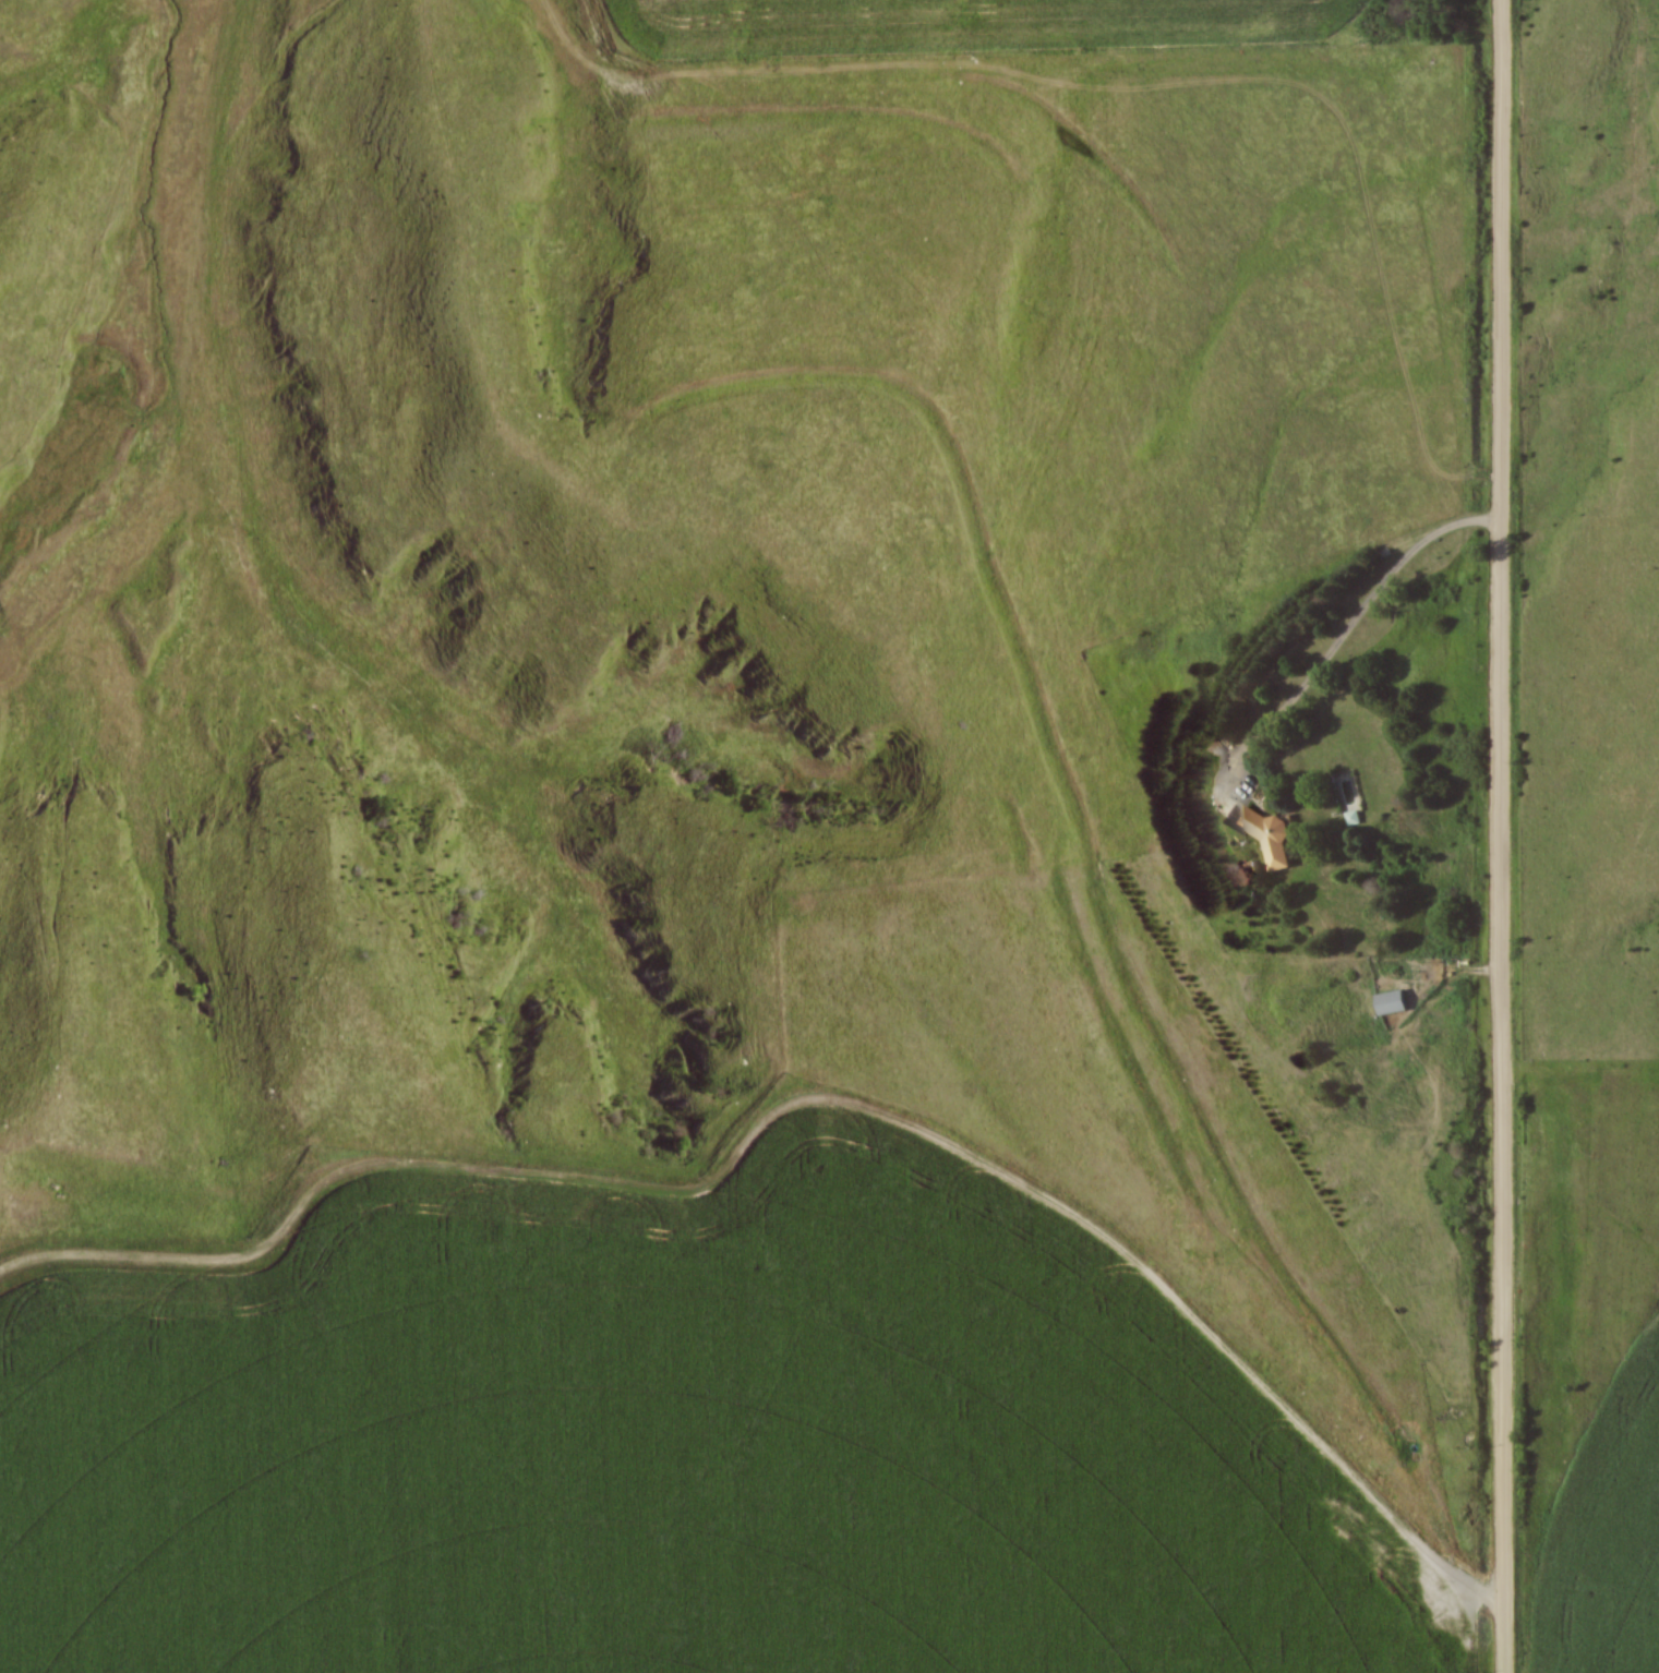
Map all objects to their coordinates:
road: (1349, 633)
building: (1269, 835)
road: (1503, 835)
building: (1391, 1003)

